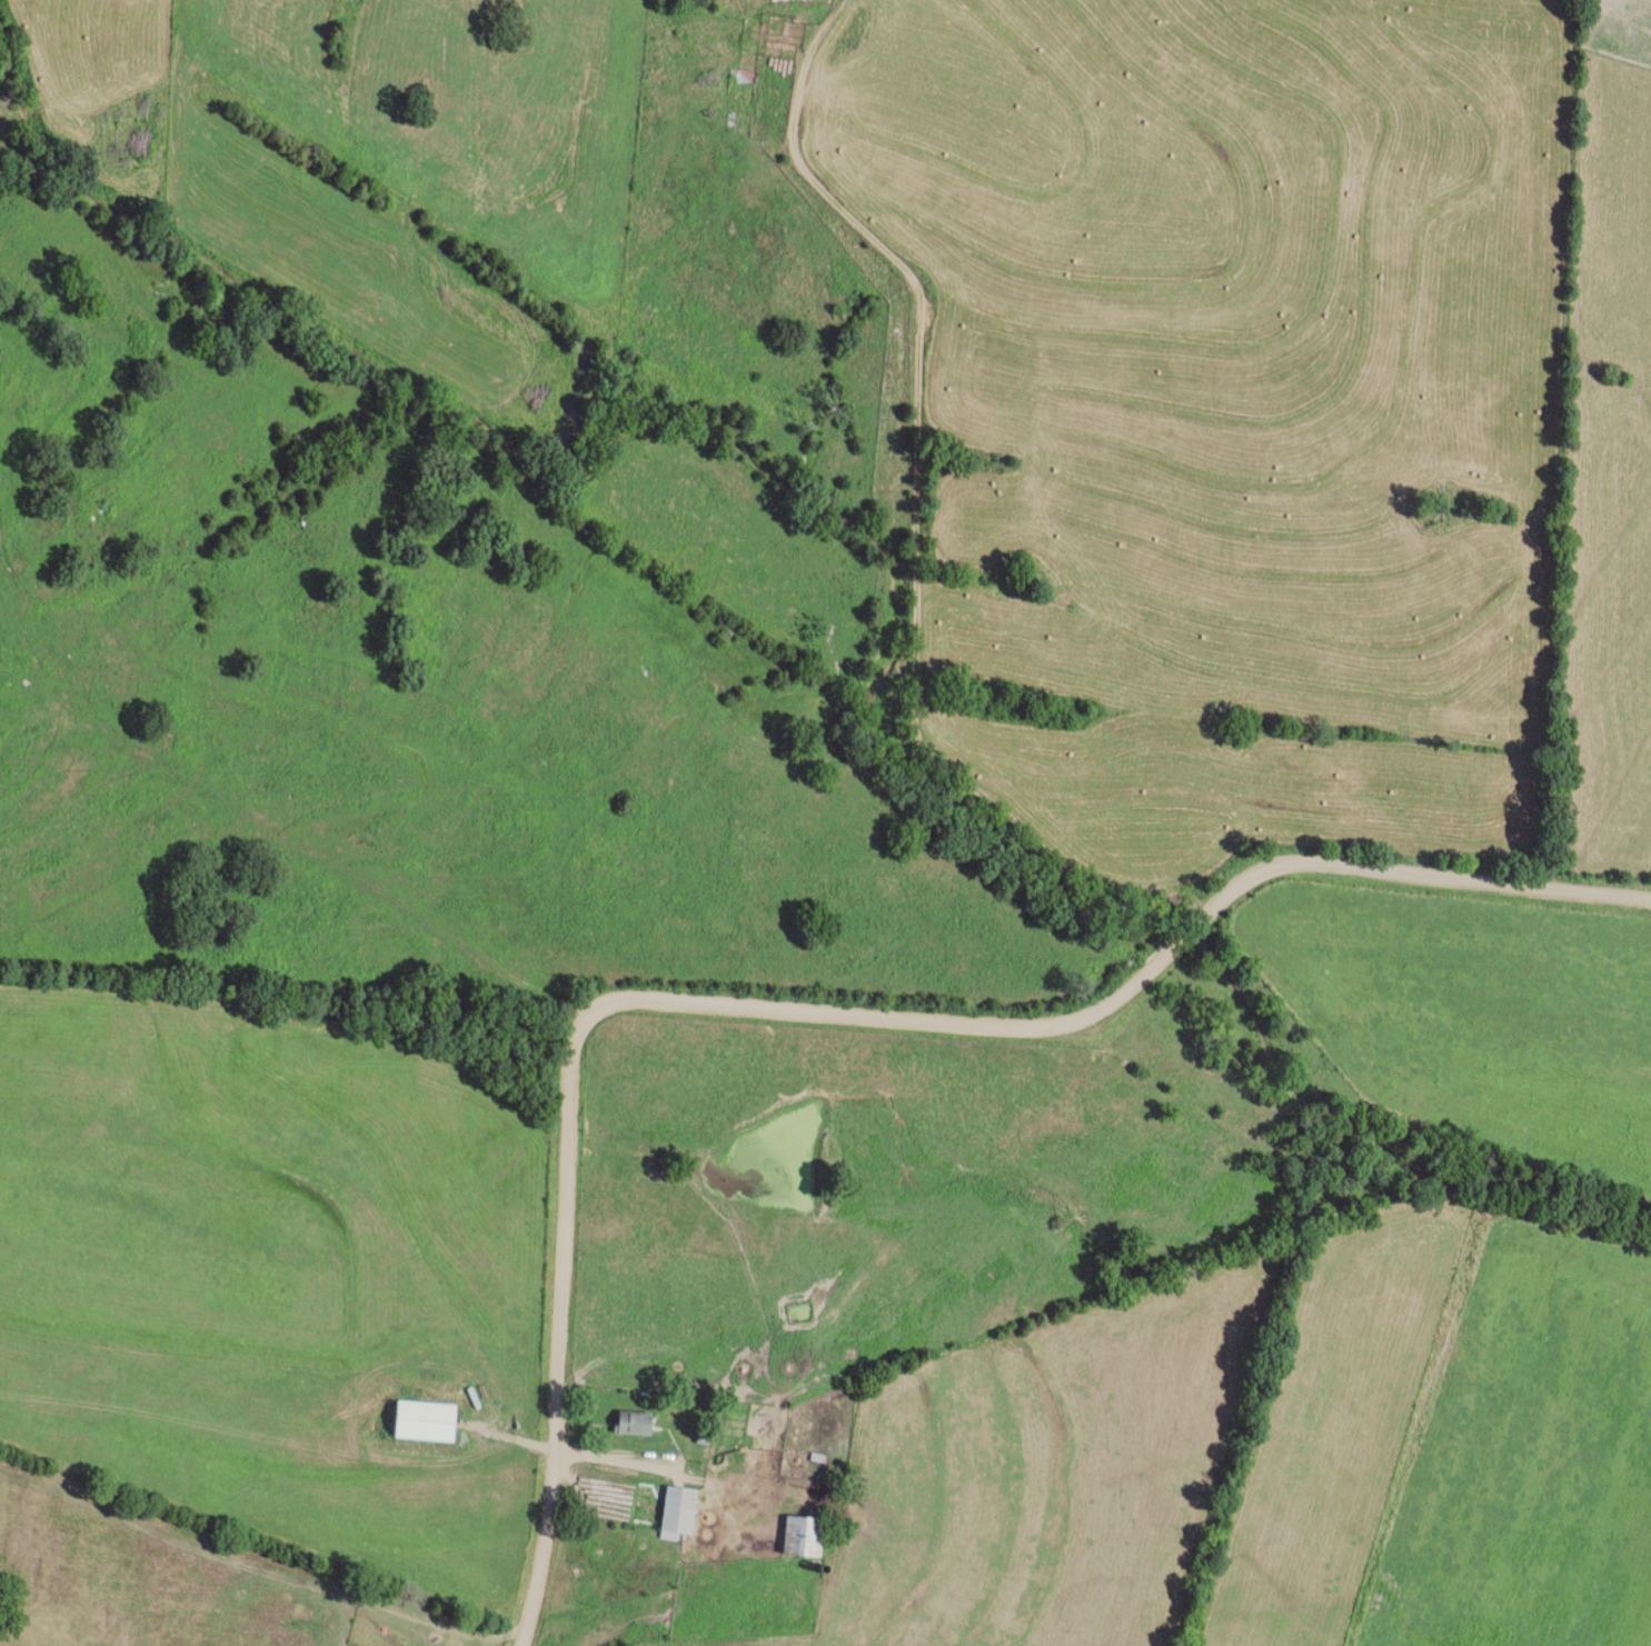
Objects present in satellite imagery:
building: (746, 81)
road: (824, 1011)
building: (418, 1421)
building: (630, 1423)
building: (674, 1513)
building: (800, 1538)

